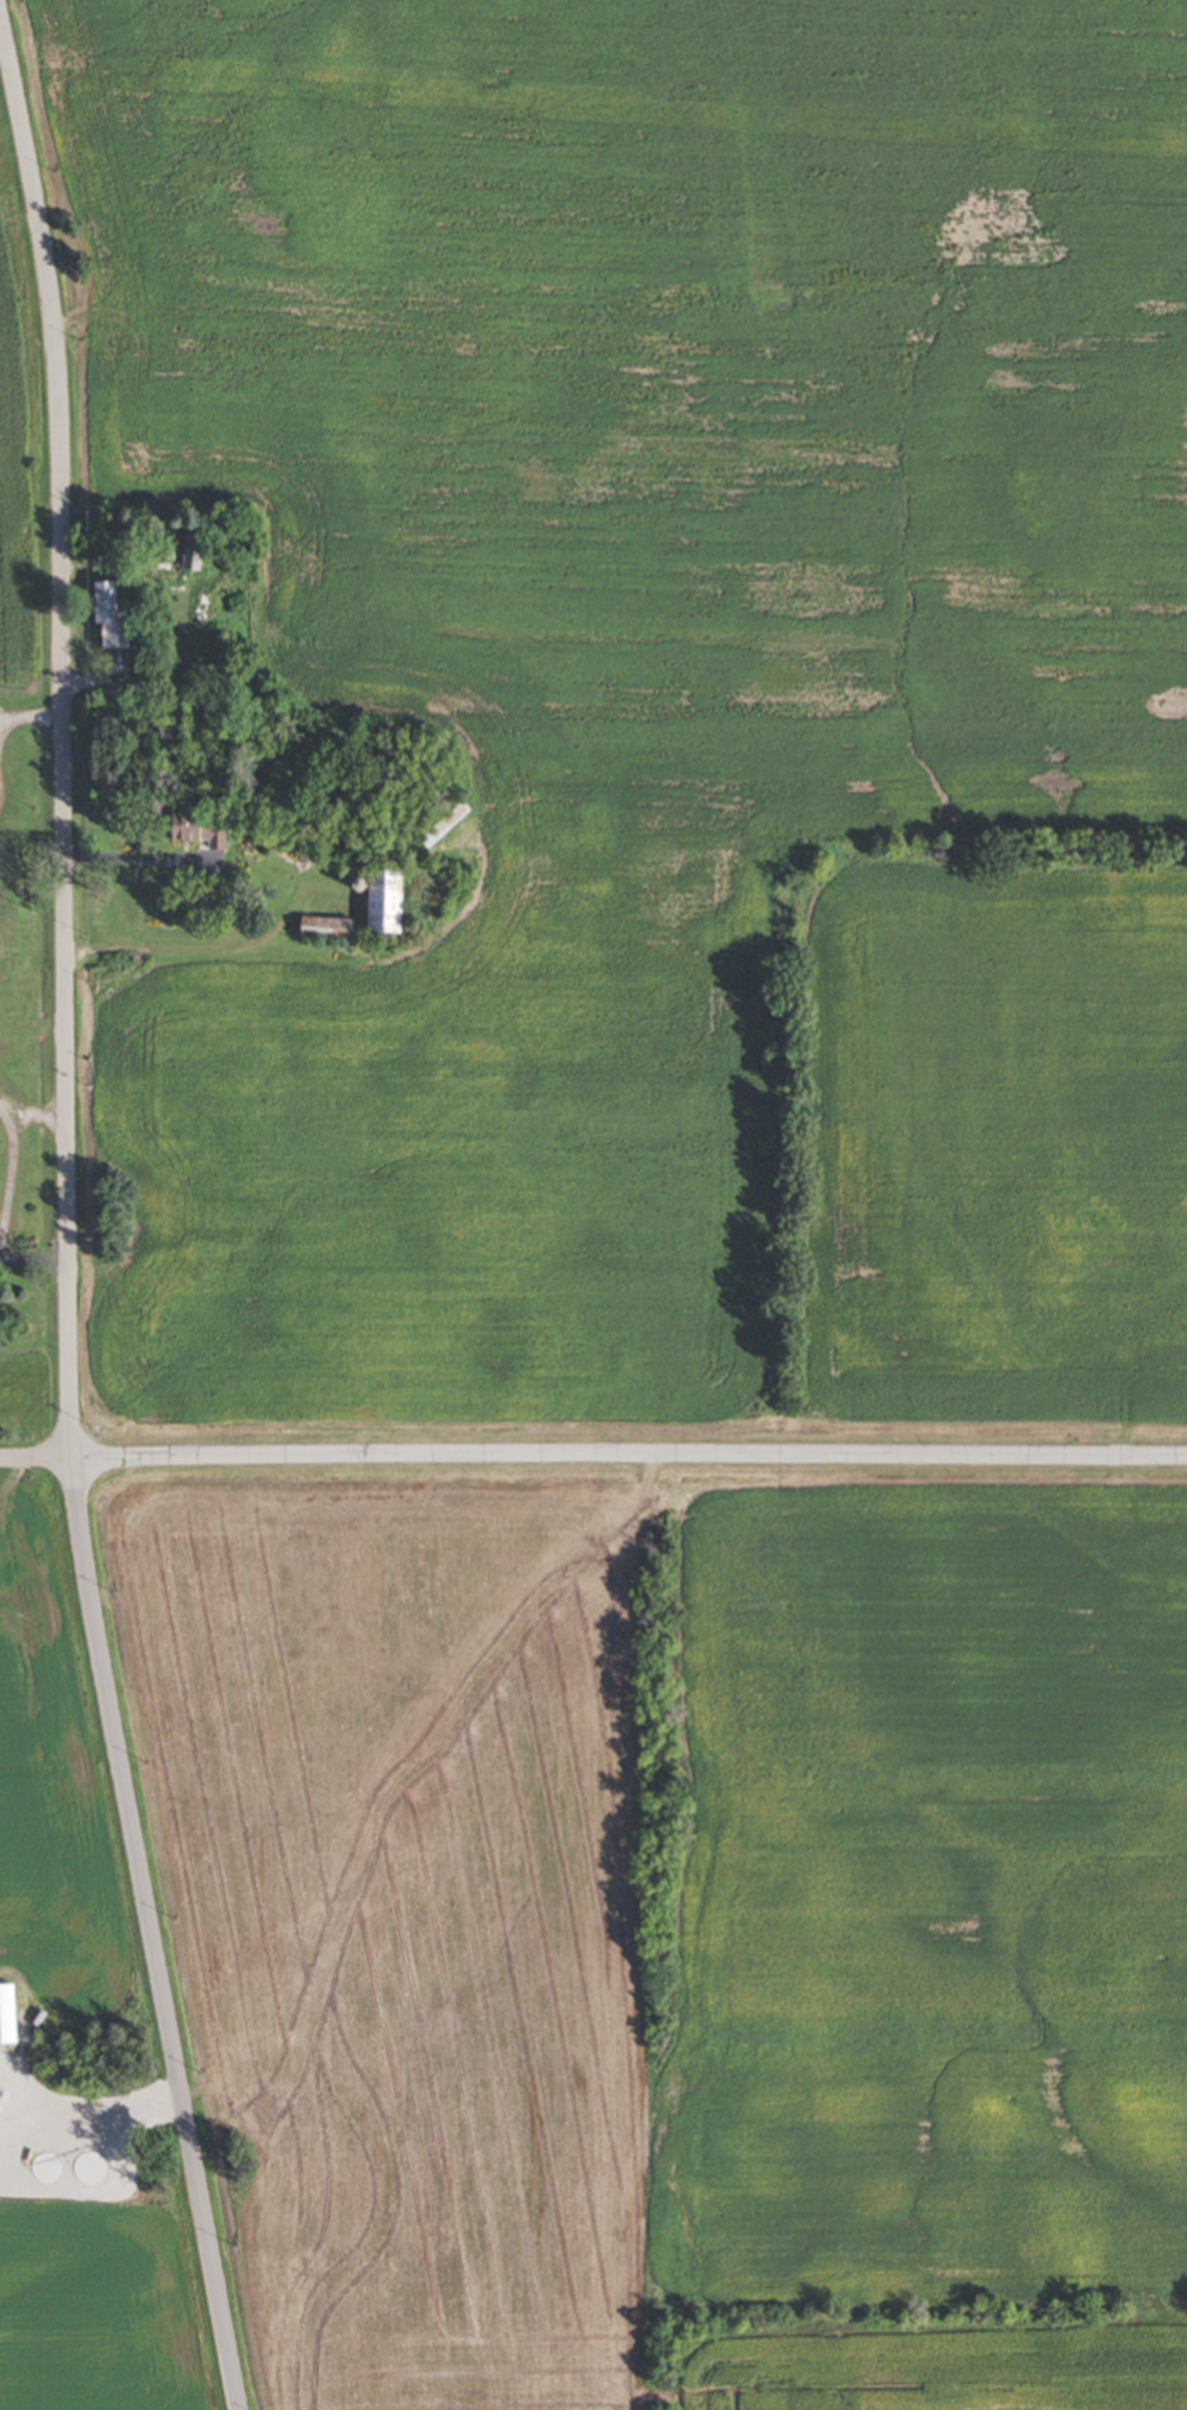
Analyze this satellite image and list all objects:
building: (195, 554)
building: (114, 617)
road: (30, 712)
building: (202, 827)
road: (142, 857)
building: (389, 902)
building: (329, 927)
road: (36, 1114)
road: (2, 1163)
road: (69, 1219)
road: (35, 1258)
road: (592, 1461)
building: (8, 2014)

